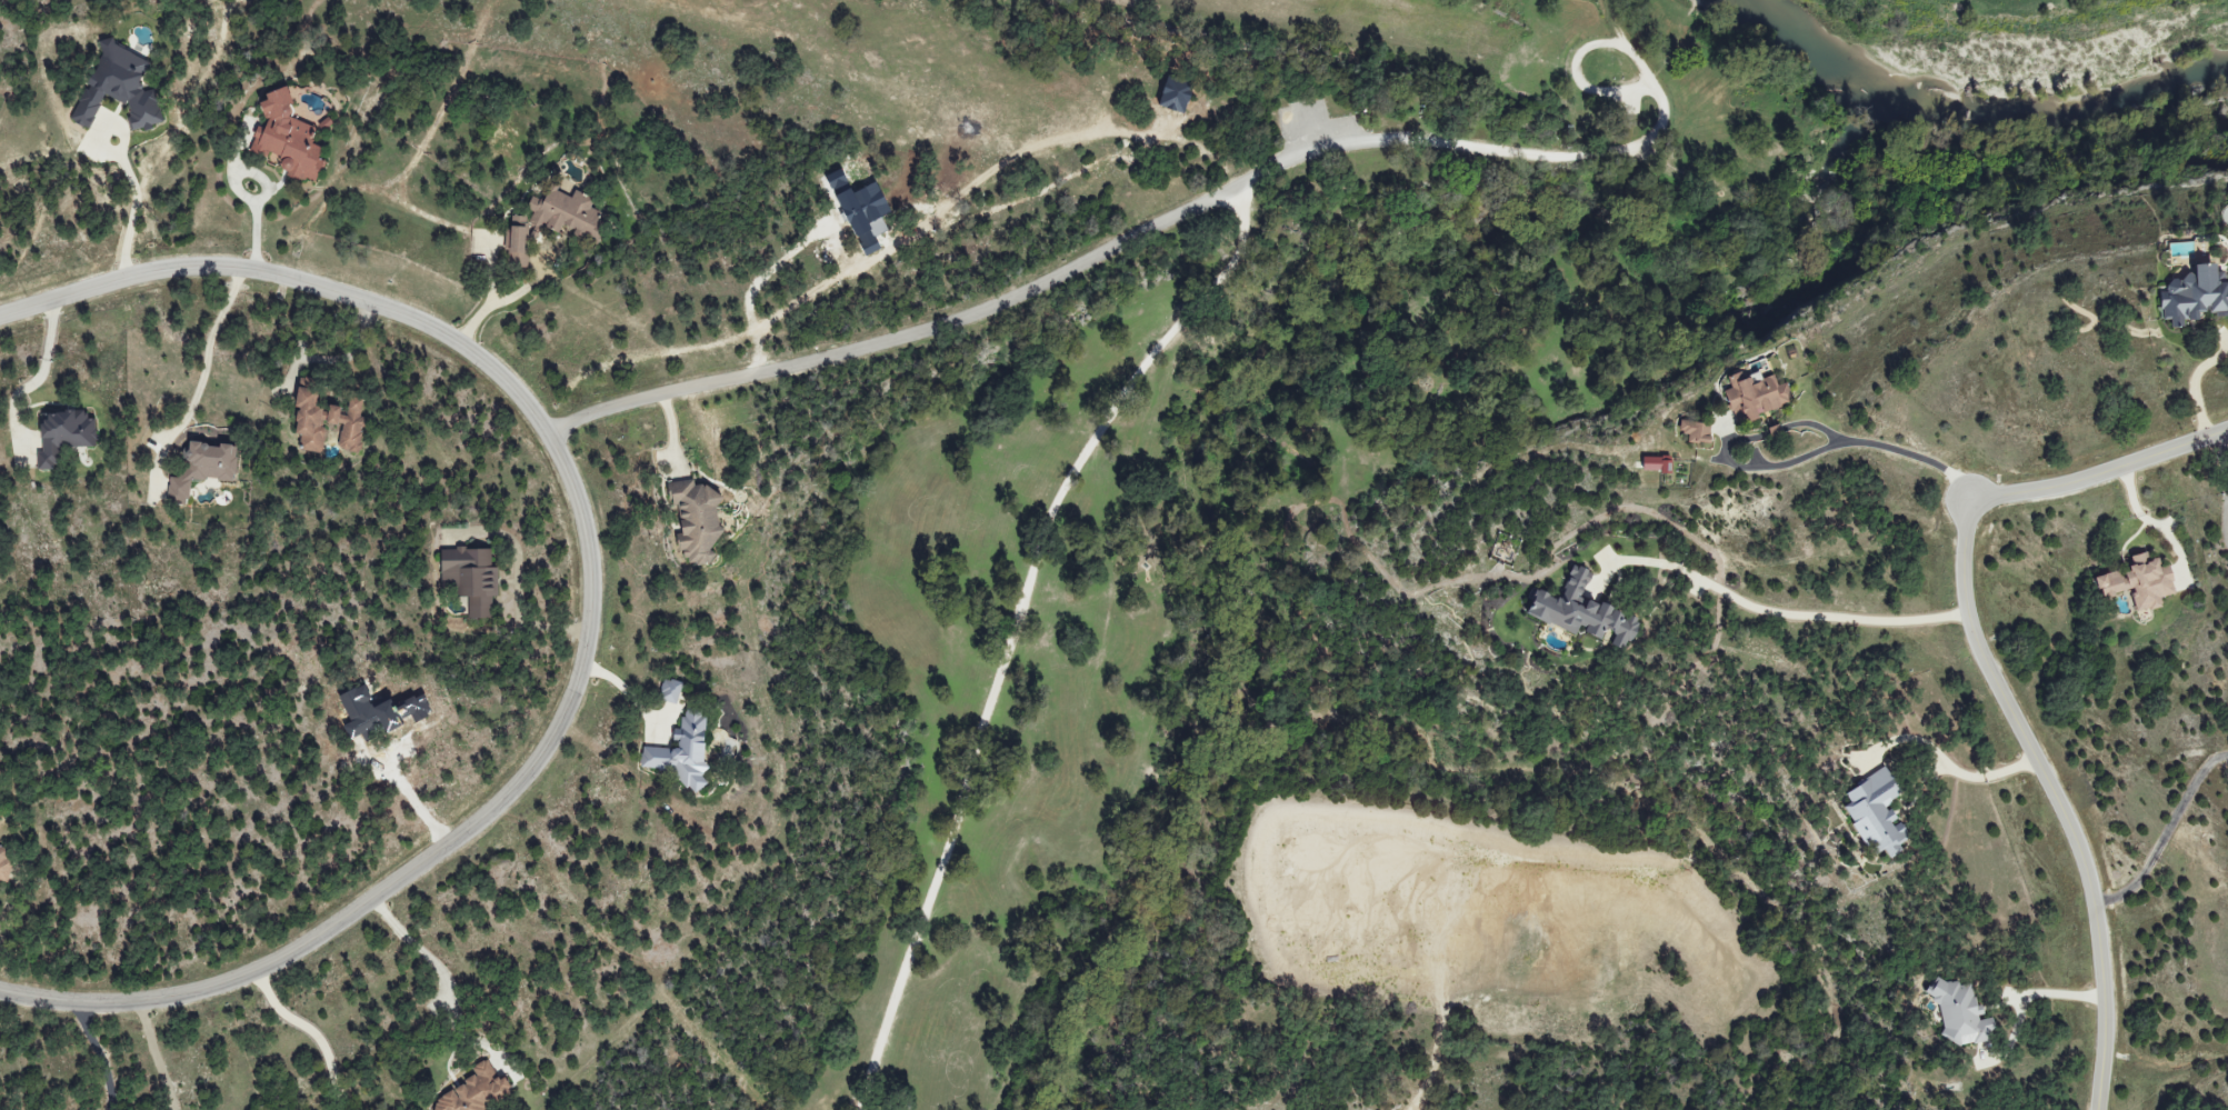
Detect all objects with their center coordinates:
road: (1577, 64)
building: (118, 88)
building: (1175, 92)
river: (1970, 112)
parking lot: (1308, 137)
building: (286, 139)
road: (1203, 146)
road: (133, 201)
building: (859, 204)
building: (566, 213)
building: (869, 244)
building: (516, 246)
road: (750, 288)
building: (2194, 296)
road: (501, 302)
road: (902, 338)
road: (341, 359)
road: (202, 372)
road: (37, 379)
road: (2196, 387)
building: (1755, 394)
road: (1122, 408)
building: (326, 420)
building: (1696, 431)
building: (62, 434)
road: (2227, 444)
road: (1882, 449)
building: (1656, 464)
building: (203, 467)
road: (2099, 478)
building: (696, 520)
park: (1042, 552)
building: (471, 578)
building: (2139, 582)
road: (518, 591)
road: (591, 604)
building: (1581, 611)
road: (1790, 611)
building: (668, 690)
road: (629, 693)
building: (681, 751)
road: (1984, 773)
road: (2052, 798)
building: (1876, 814)
road: (2164, 833)
building: (4, 863)
road: (442, 978)
road: (2026, 991)
building: (1960, 1013)
road: (312, 1034)
road: (154, 1058)
building: (476, 1092)

